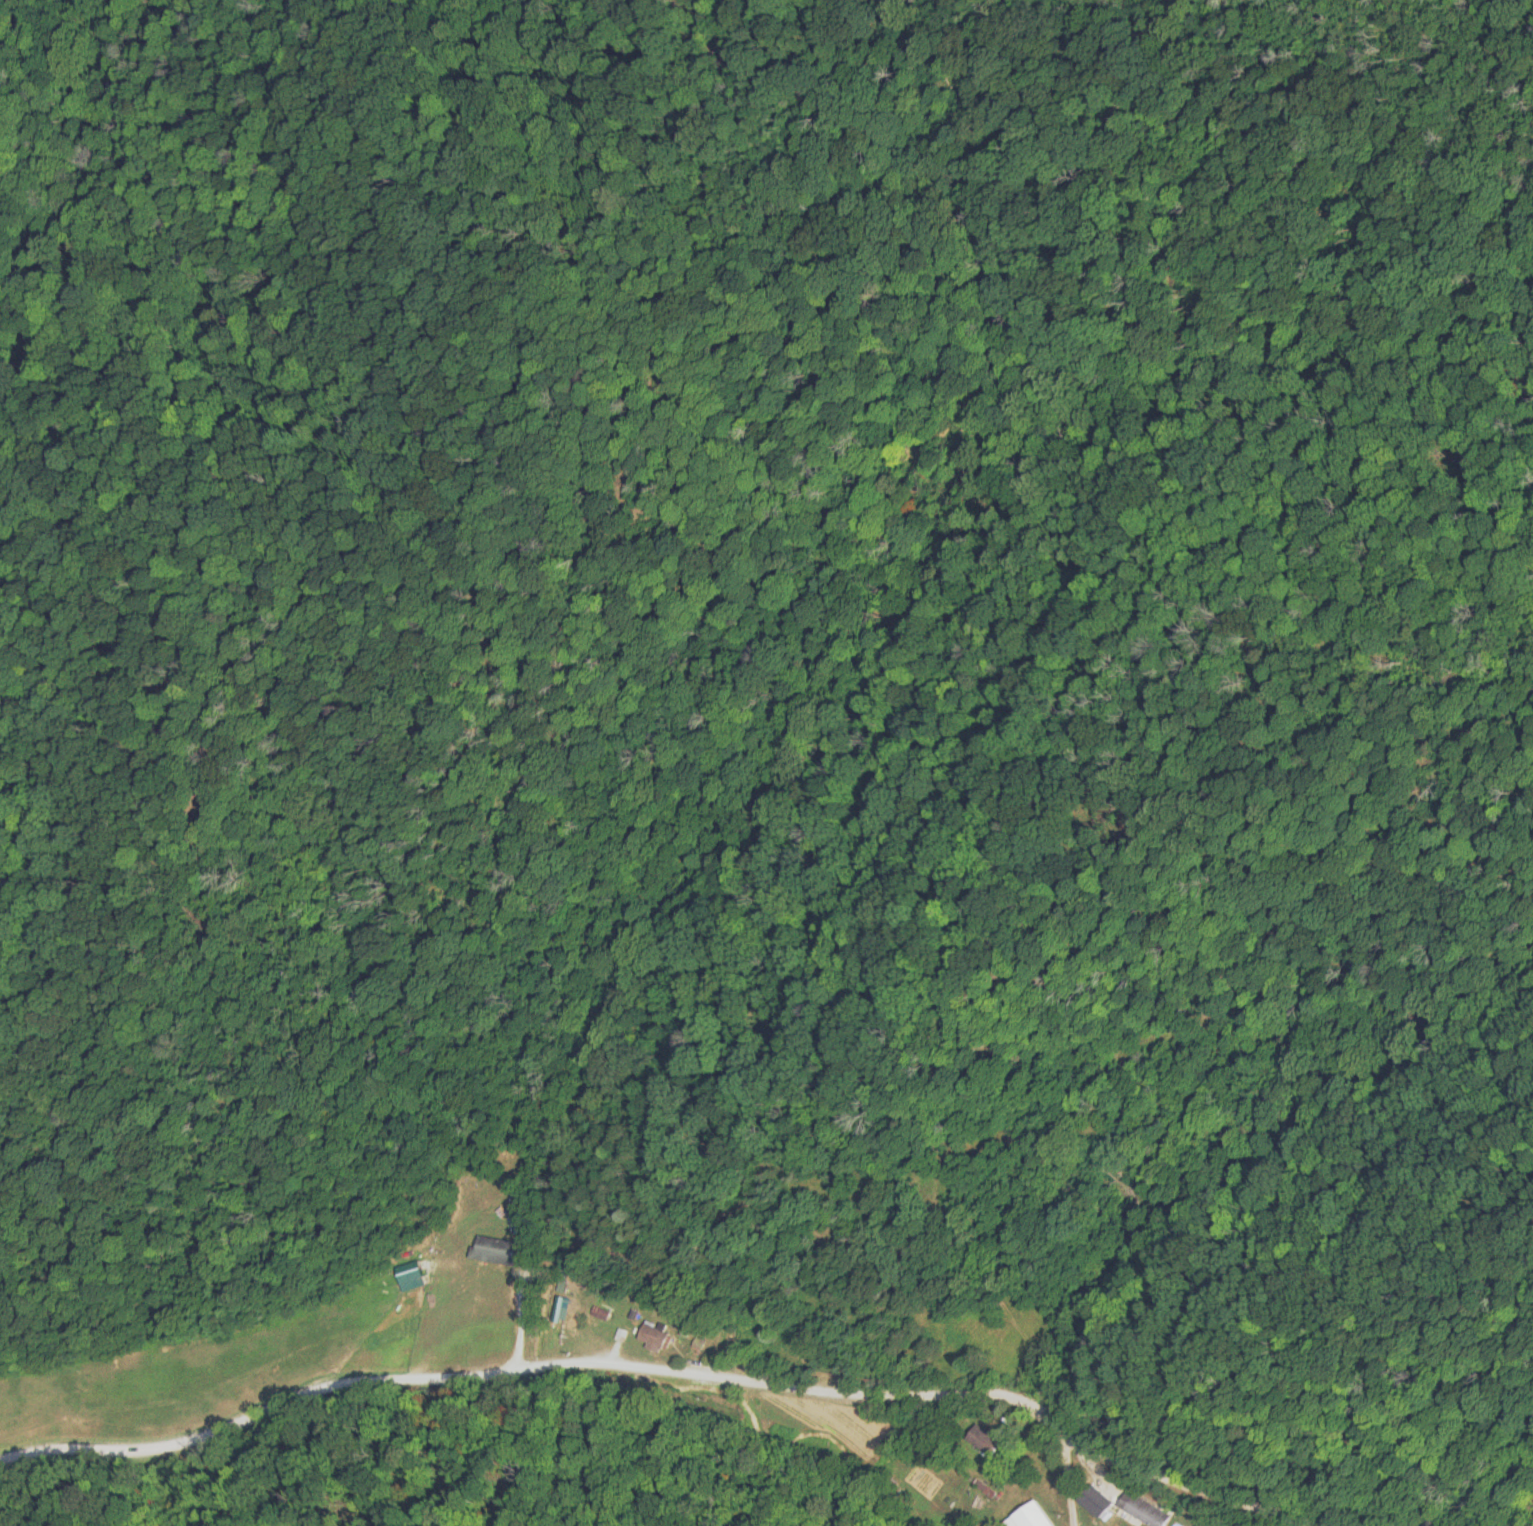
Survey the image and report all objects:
building: (495, 1250)
building: (600, 1313)
road: (771, 1326)
building: (650, 1337)
building: (1141, 1509)
building: (1030, 1515)

